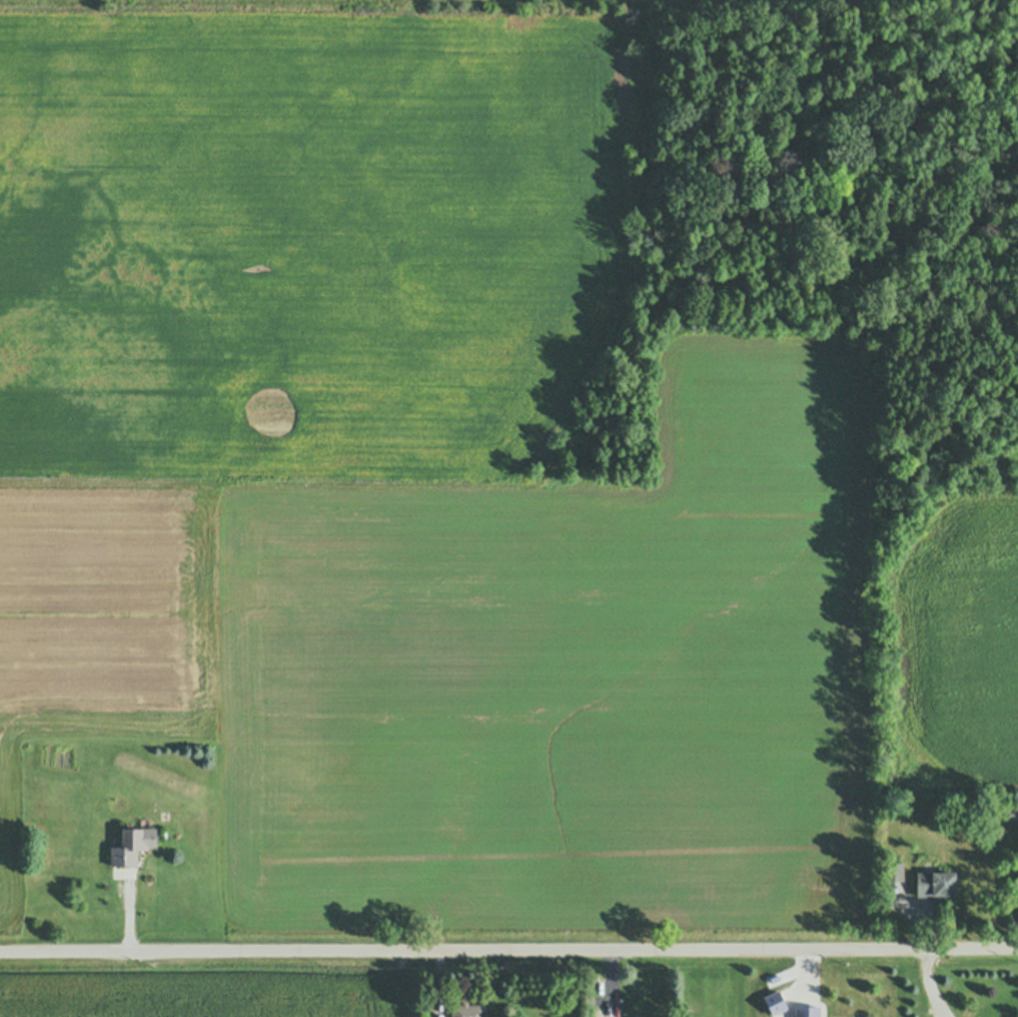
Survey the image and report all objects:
building: (102, 759)
building: (1012, 815)
building: (137, 843)
building: (894, 871)
building: (935, 884)
road: (509, 952)
building: (773, 1001)
building: (473, 1011)
building: (805, 1011)

